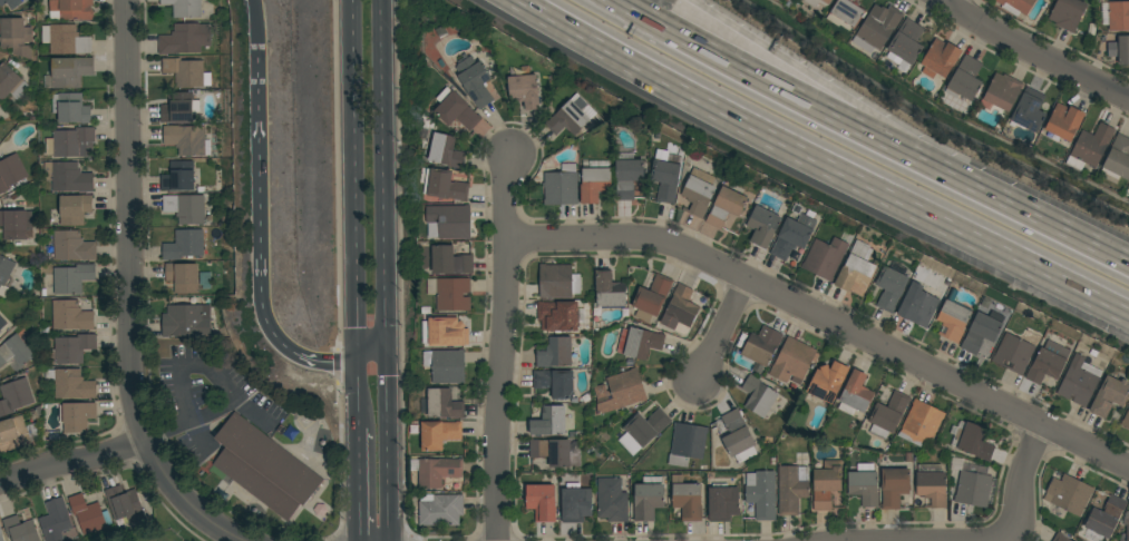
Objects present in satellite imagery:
road: (948, 1)
building: (816, 2)
building: (10, 3)
building: (1016, 6)
building: (185, 8)
building: (72, 9)
building: (846, 13)
building: (1068, 13)
building: (1119, 16)
road: (259, 28)
building: (877, 28)
building: (16, 37)
building: (185, 39)
building: (66, 40)
building: (906, 43)
building: (1120, 49)
road: (1036, 50)
building: (940, 59)
building: (70, 71)
building: (185, 71)
building: (965, 79)
building: (475, 81)
building: (11, 82)
building: (525, 89)
building: (1001, 92)
road: (850, 97)
building: (71, 108)
building: (179, 108)
road: (801, 108)
building: (1029, 110)
building: (456, 111)
building: (571, 116)
building: (1062, 124)
building: (187, 140)
building: (71, 142)
building: (1090, 147)
building: (445, 151)
building: (1117, 159)
road: (820, 160)
road: (260, 169)
building: (11, 171)
road: (338, 174)
building: (178, 176)
building: (665, 176)
building: (68, 177)
building: (627, 177)
road: (385, 178)
road: (351, 180)
building: (595, 180)
building: (444, 185)
building: (562, 186)
building: (698, 191)
building: (727, 205)
building: (185, 208)
building: (75, 209)
road: (572, 219)
road: (130, 220)
building: (448, 222)
building: (16, 224)
building: (762, 226)
road: (1063, 228)
building: (792, 236)
building: (184, 245)
building: (72, 246)
building: (825, 258)
building: (449, 260)
building: (856, 267)
building: (6, 269)
building: (183, 277)
building: (72, 278)
building: (205, 279)
building: (558, 281)
road: (399, 284)
building: (890, 286)
building: (610, 291)
building: (449, 293)
building: (651, 297)
building: (918, 305)
building: (680, 311)
road: (776, 314)
building: (559, 315)
building: (70, 316)
road: (270, 318)
road: (826, 318)
building: (186, 321)
building: (953, 321)
building: (2, 323)
building: (982, 329)
building: (444, 333)
road: (724, 334)
building: (639, 343)
road: (504, 347)
building: (760, 347)
building: (71, 348)
building: (14, 351)
building: (555, 353)
building: (1013, 354)
road: (372, 358)
road: (323, 361)
road: (339, 362)
building: (794, 362)
building: (1047, 363)
building: (446, 365)
building: (1079, 381)
building: (554, 382)
building: (827, 382)
building: (70, 384)
building: (622, 392)
building: (855, 394)
building: (14, 396)
building: (759, 396)
building: (1109, 396)
building: (441, 404)
road: (155, 407)
road: (357, 409)
road: (208, 415)
building: (887, 415)
building: (77, 416)
building: (1126, 420)
building: (553, 421)
building: (921, 423)
building: (643, 430)
building: (17, 434)
building: (438, 434)
building: (738, 437)
road: (142, 441)
building: (974, 441)
building: (687, 444)
road: (390, 449)
building: (552, 451)
road: (1050, 458)
building: (264, 468)
road: (115, 470)
building: (438, 472)
road: (1024, 483)
building: (864, 484)
building: (931, 484)
building: (826, 485)
building: (894, 486)
building: (973, 486)
building: (791, 489)
building: (761, 494)
building: (1069, 494)
road: (358, 498)
building: (687, 499)
building: (612, 500)
building: (648, 500)
building: (542, 502)
building: (575, 503)
building: (722, 503)
building: (124, 504)
building: (440, 510)
building: (89, 514)
building: (1106, 518)
building: (55, 520)
building: (20, 529)
building: (1127, 532)
building: (1, 535)
building: (1060, 538)
building: (1120, 540)

